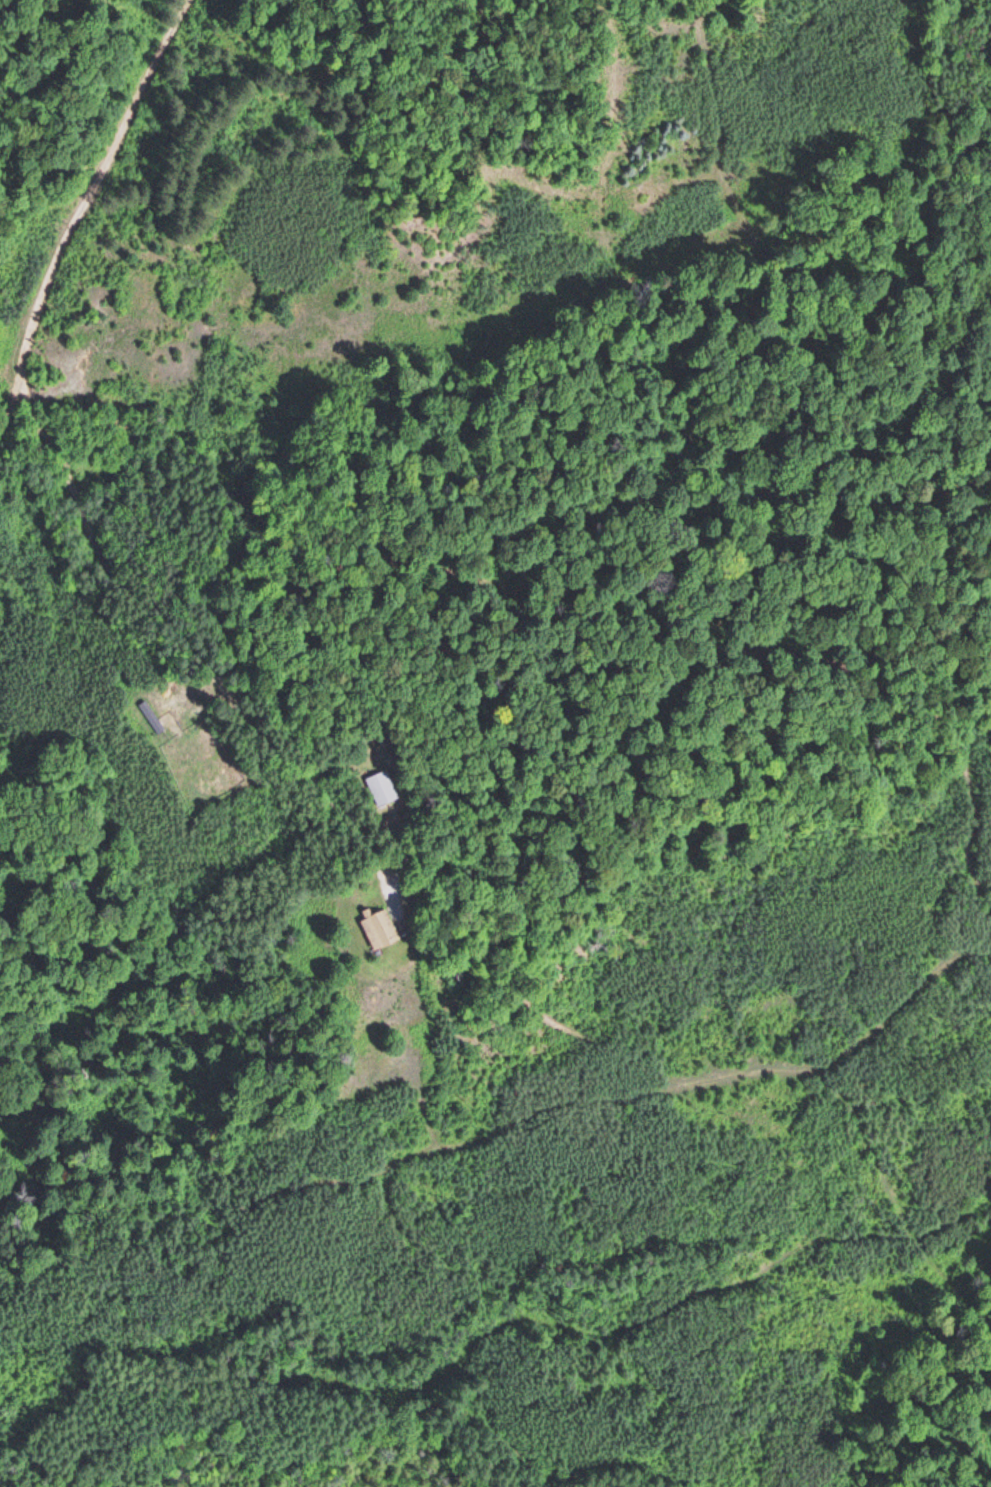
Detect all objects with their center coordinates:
road: (93, 185)
road: (10, 417)
building: (378, 790)
building: (383, 932)

